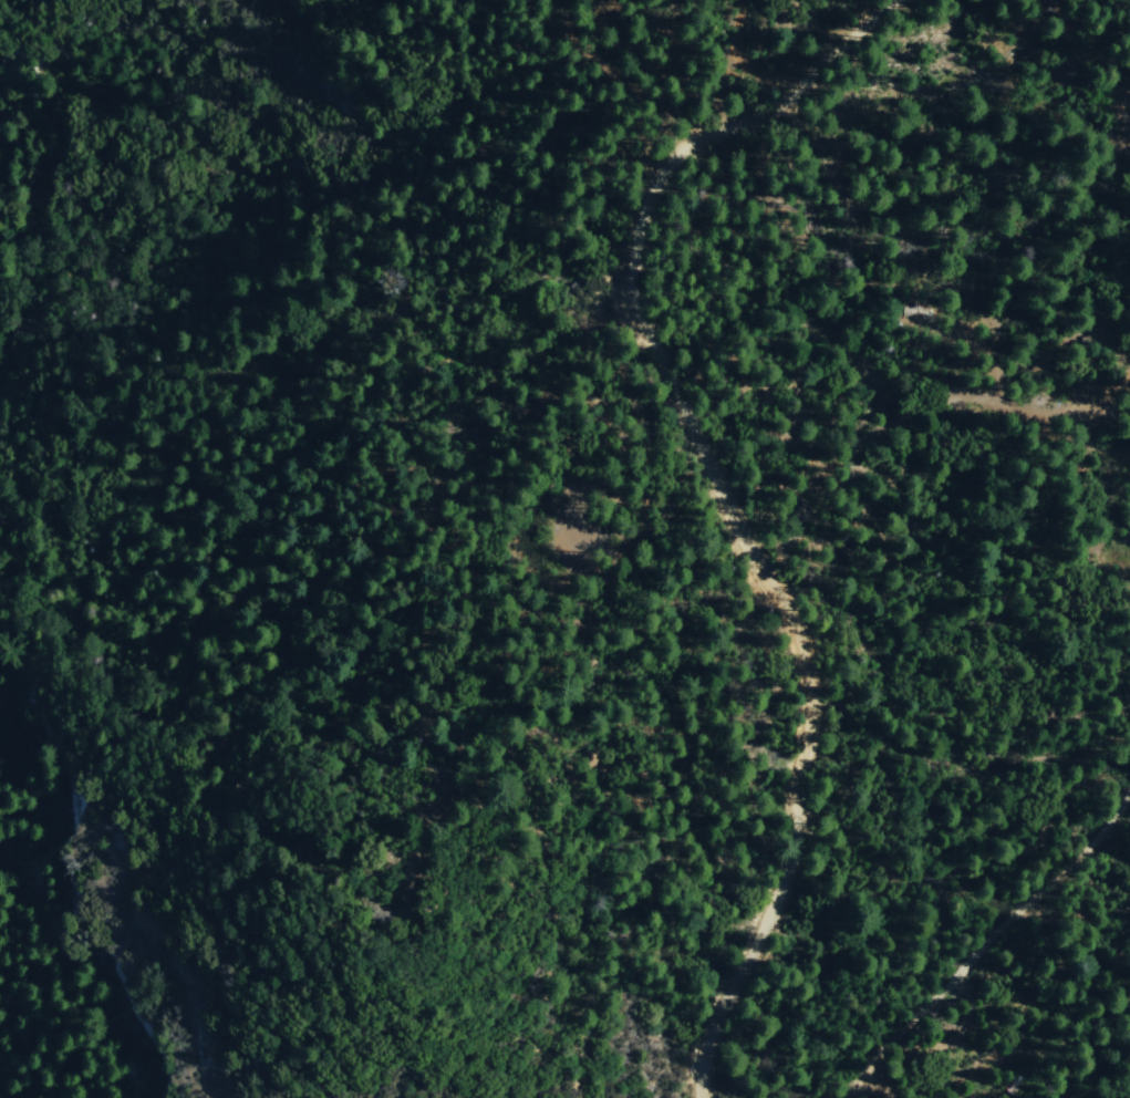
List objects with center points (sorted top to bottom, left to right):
road: (694, 439)
road: (985, 943)

